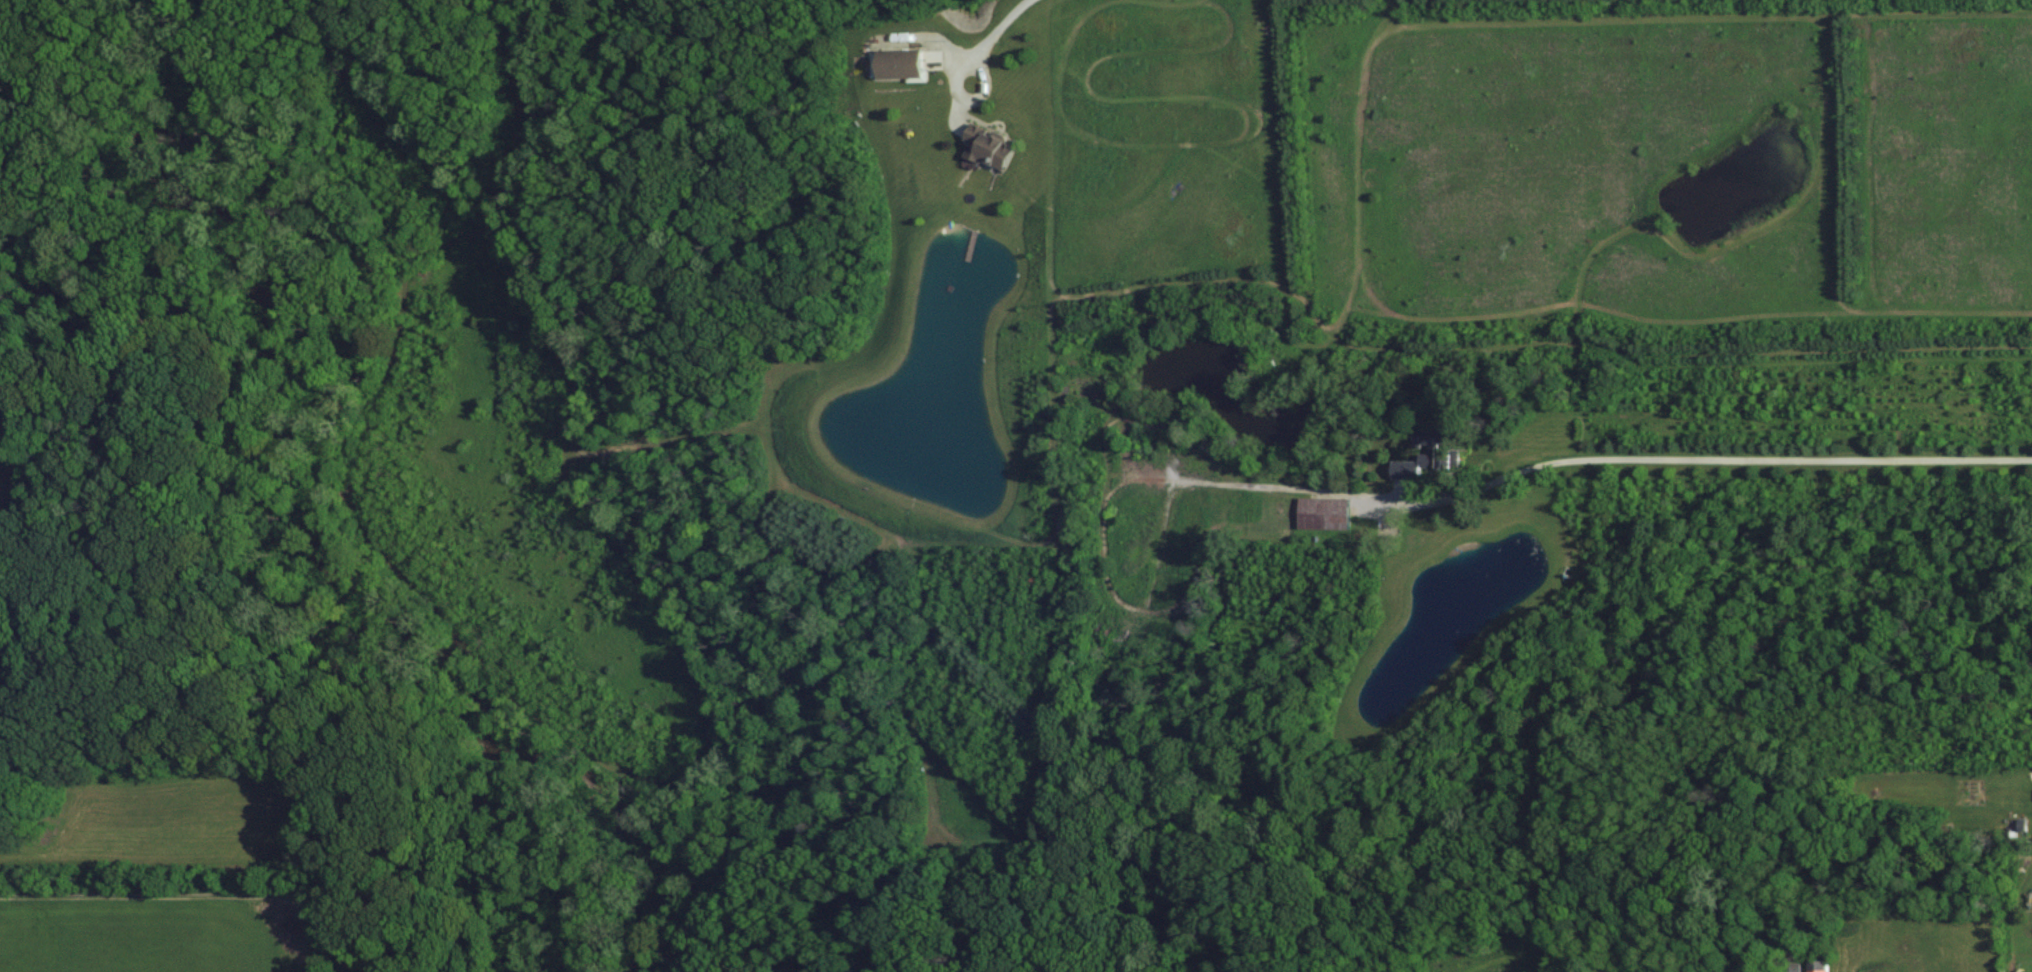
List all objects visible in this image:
road: (983, 44)
building: (906, 62)
building: (993, 145)
building: (1448, 458)
road: (1711, 458)
building: (1411, 468)
building: (1334, 511)
building: (1820, 966)

